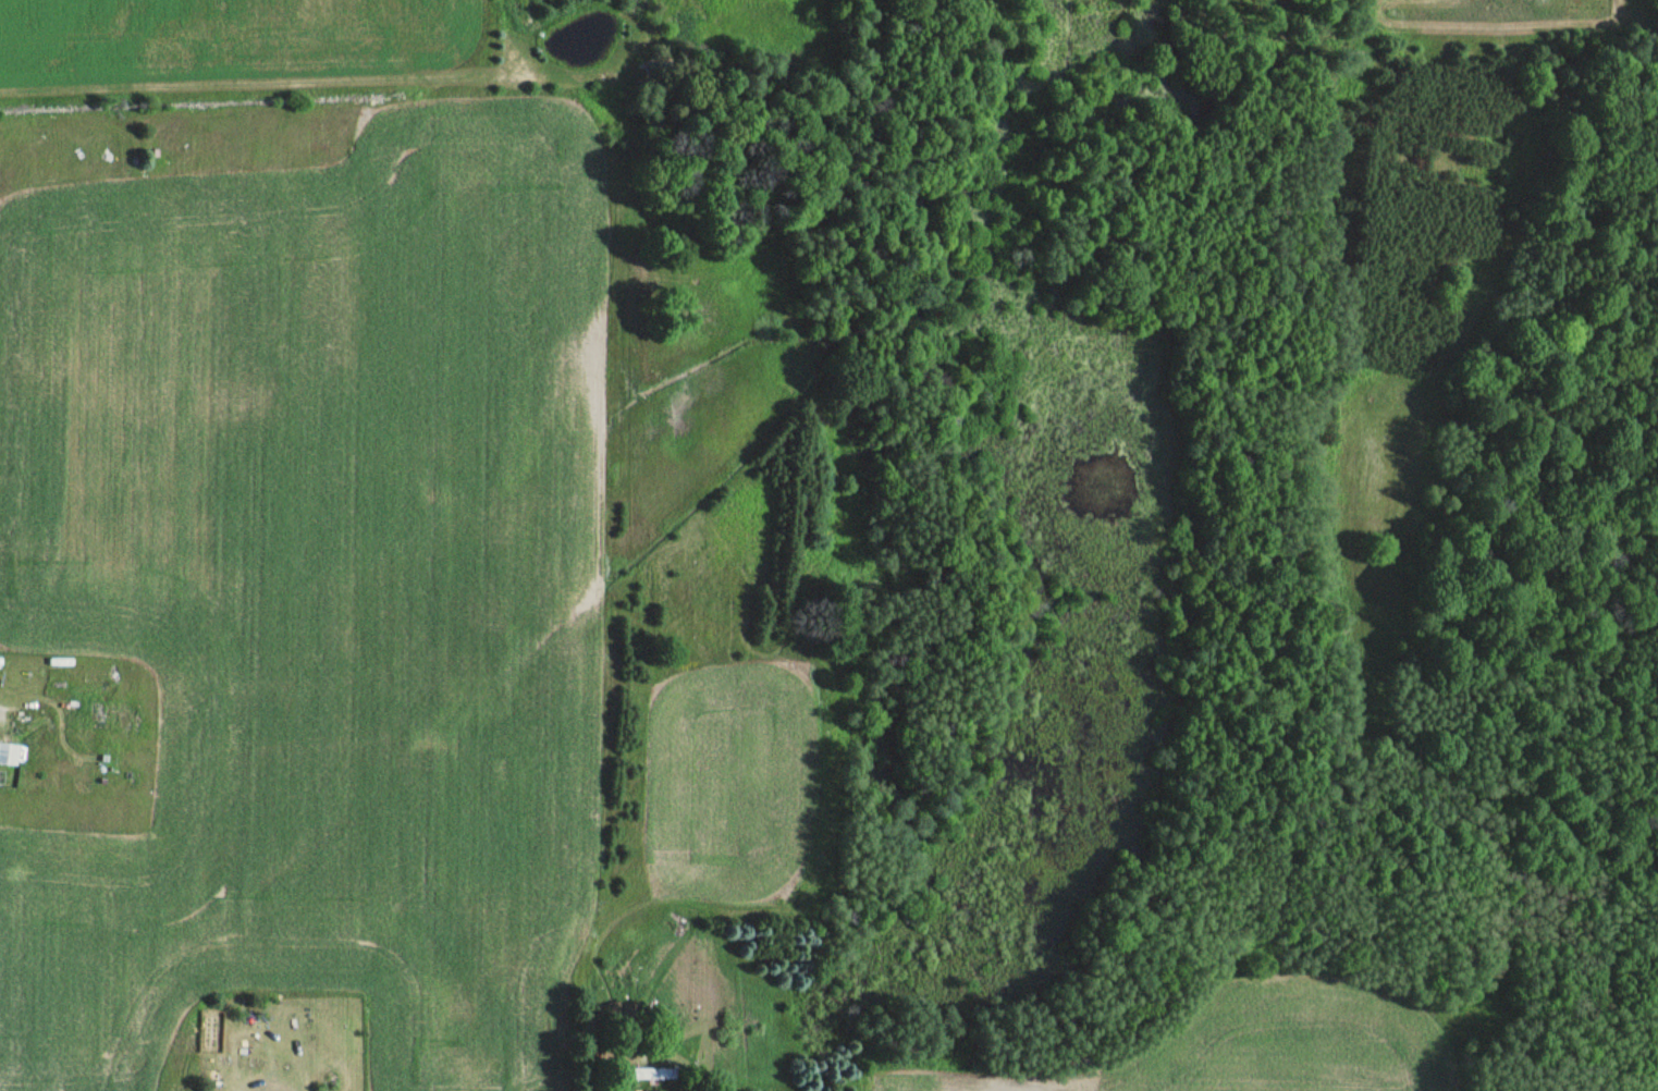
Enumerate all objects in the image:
building: (12, 752)
building: (651, 1072)

